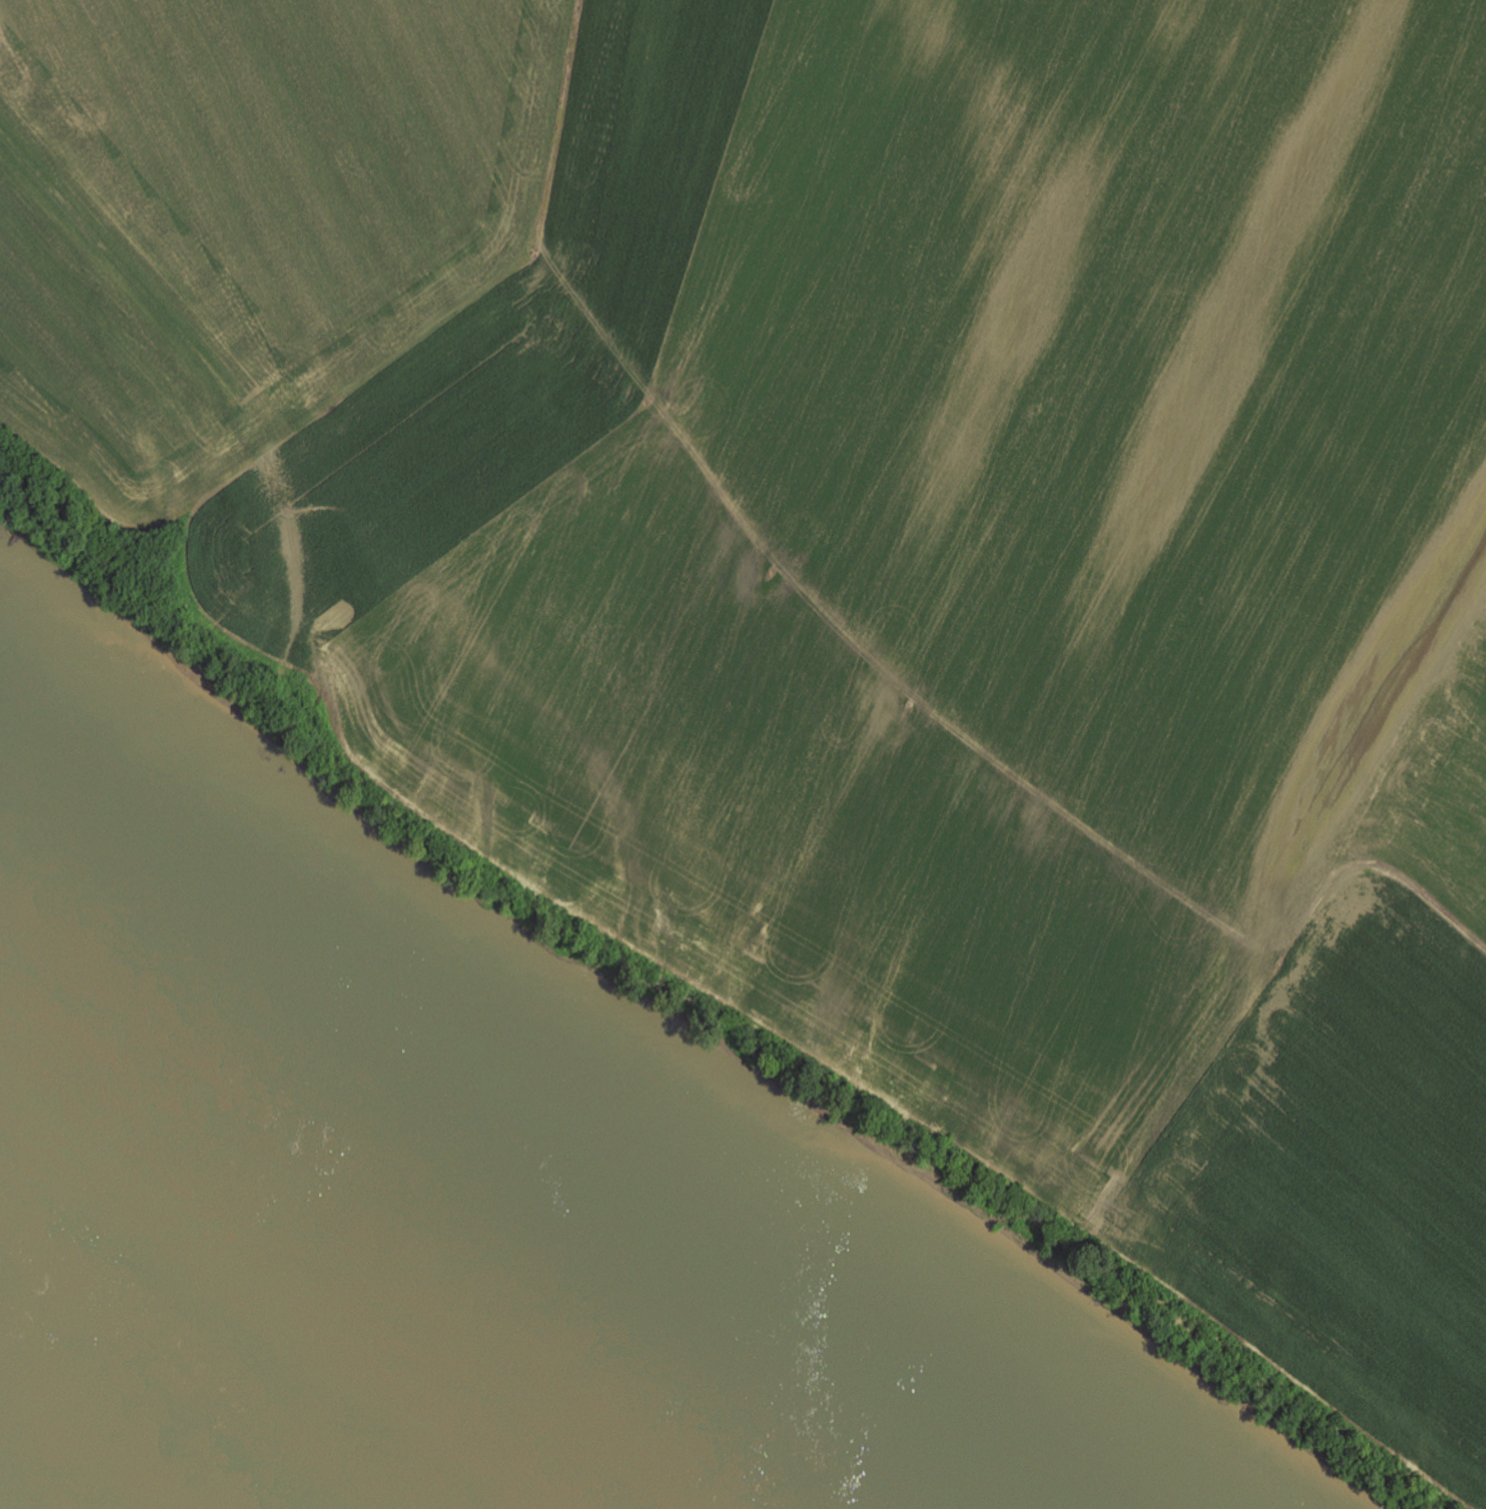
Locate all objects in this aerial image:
river: (52, 1460)

